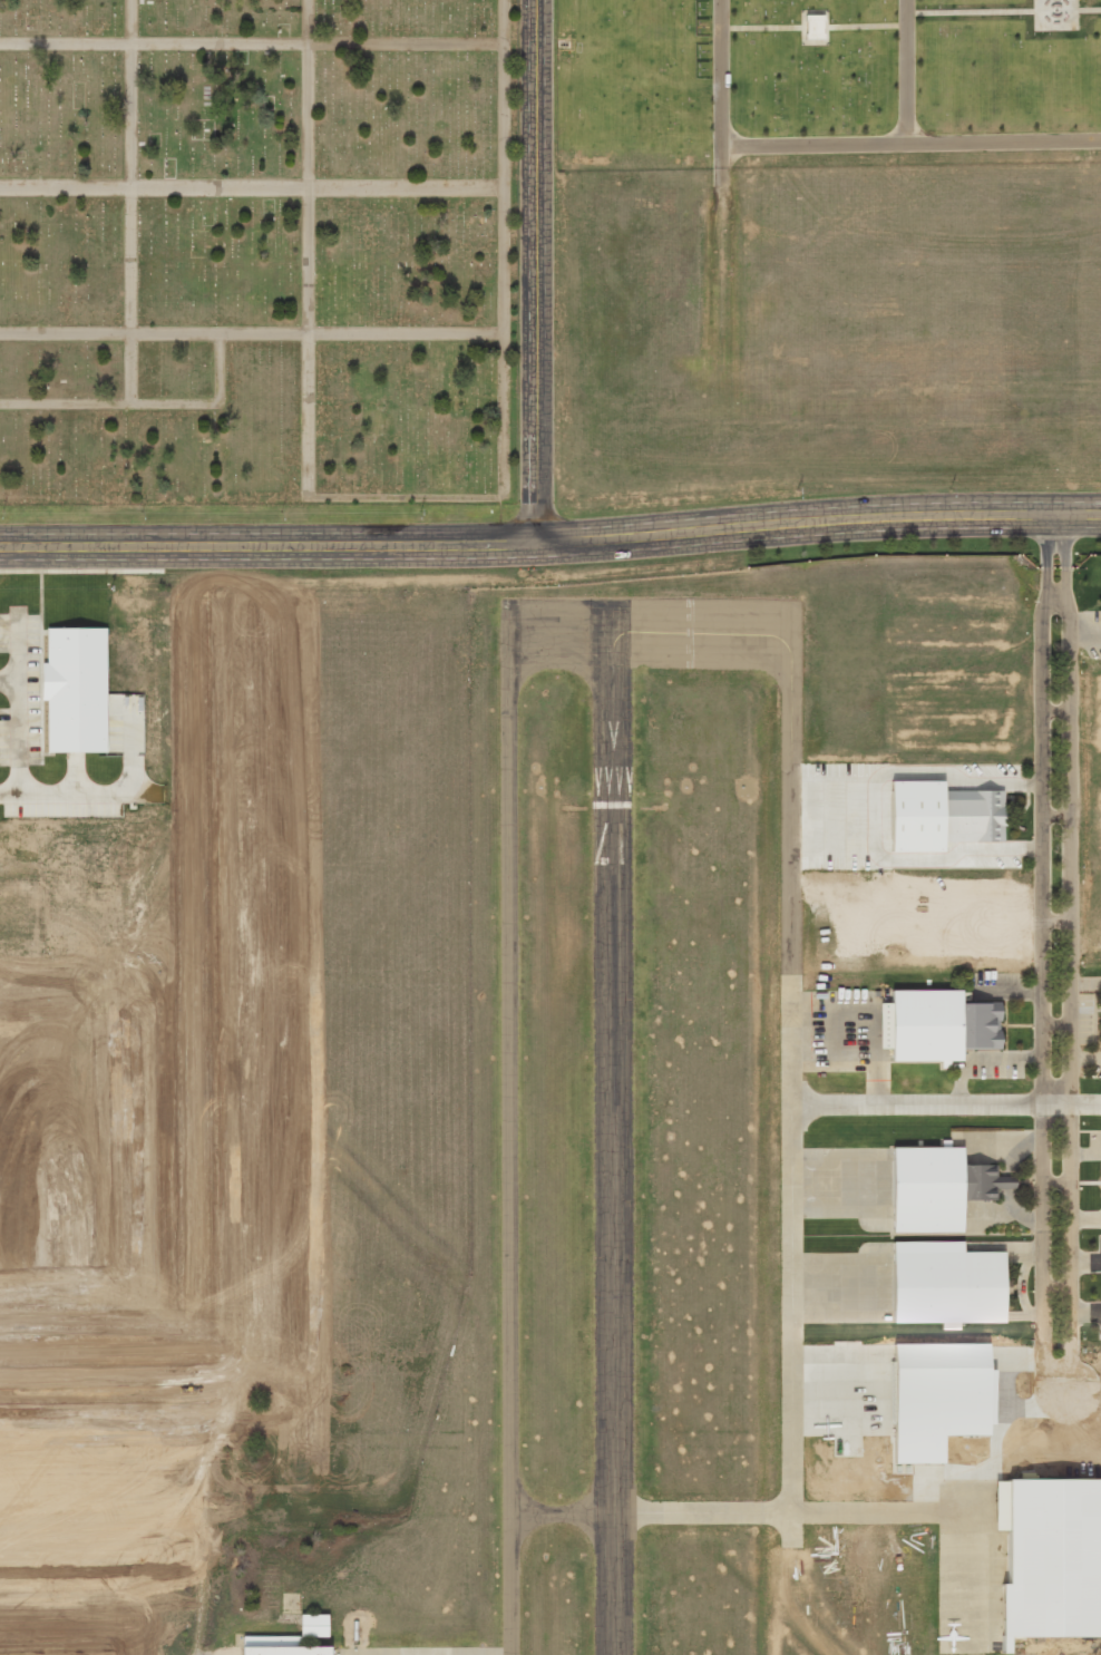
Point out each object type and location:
road: (906, 71)
road: (837, 145)
park: (455, 206)
road: (533, 273)
road: (816, 522)
road: (266, 546)
road: (1054, 603)
building: (76, 689)
road: (1054, 711)
building: (942, 816)
road: (1055, 816)
road: (1055, 921)
airport taxiway: (790, 985)
road: (1055, 1024)
building: (939, 1025)
airport taxiway: (509, 1091)
road: (945, 1106)
airport runway: (613, 1127)
building: (937, 1188)
airport: (680, 1217)
building: (942, 1284)
road: (1053, 1392)
airport taxiway: (724, 1513)
building: (1052, 1559)
building: (313, 1625)
building: (279, 1646)

